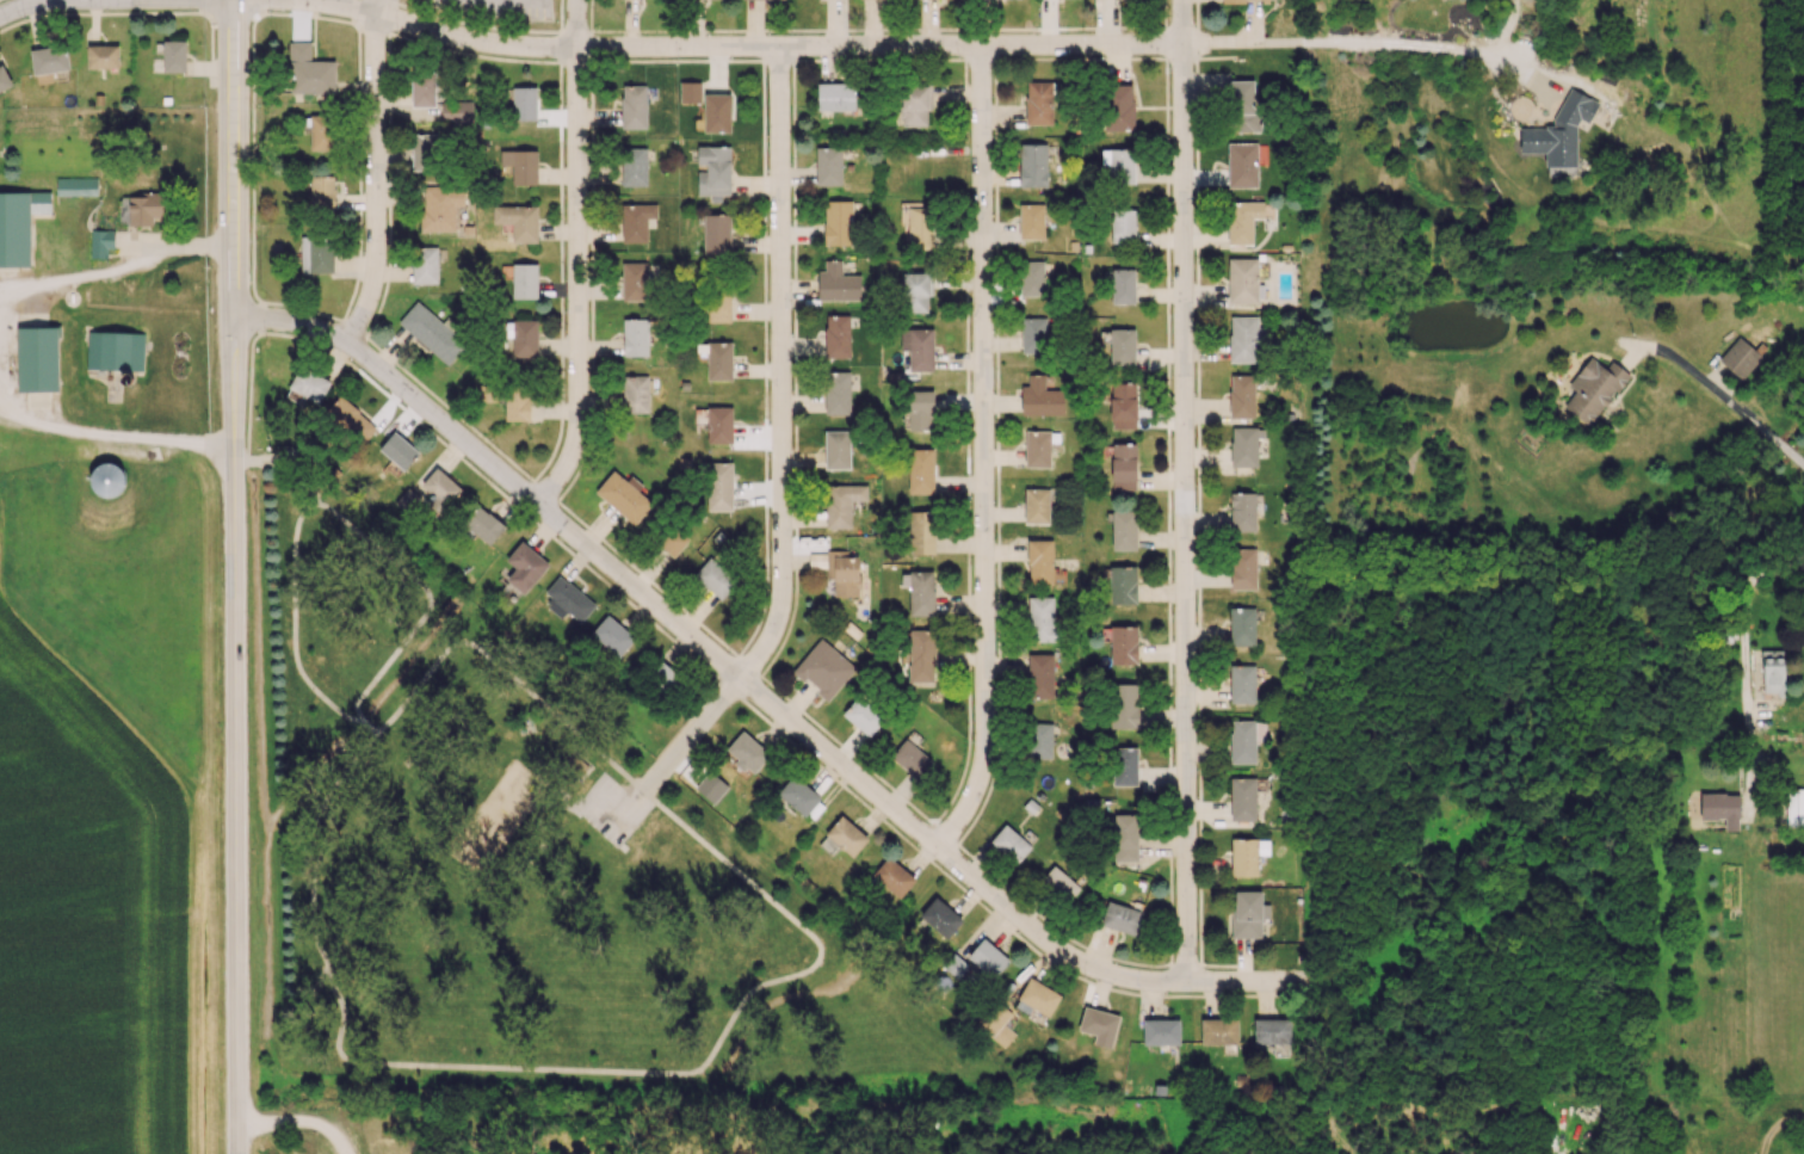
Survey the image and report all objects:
building: (1243, 0)
road: (85, 1)
road: (86, 2)
road: (385, 8)
road: (500, 8)
road: (137, 12)
road: (581, 25)
road: (879, 50)
building: (173, 56)
building: (103, 58)
building: (49, 60)
building: (309, 70)
building: (4, 79)
building: (422, 90)
building: (690, 92)
building: (835, 97)
building: (524, 103)
building: (1038, 103)
building: (634, 105)
building: (914, 105)
building: (1242, 106)
building: (1118, 107)
road: (233, 110)
building: (456, 111)
building: (716, 112)
building: (1559, 131)
building: (321, 132)
building: (424, 152)
building: (1032, 163)
building: (520, 165)
building: (1118, 165)
building: (1242, 165)
building: (634, 166)
building: (828, 166)
building: (713, 169)
building: (75, 186)
road: (377, 186)
building: (321, 191)
building: (440, 206)
building: (143, 208)
building: (518, 221)
building: (636, 221)
building: (1031, 221)
building: (1242, 221)
building: (838, 222)
building: (918, 223)
building: (18, 224)
building: (1123, 227)
building: (716, 234)
building: (100, 243)
building: (316, 254)
building: (425, 265)
road: (116, 267)
road: (233, 269)
building: (1031, 278)
building: (524, 280)
building: (635, 280)
building: (1243, 280)
building: (838, 283)
road: (577, 285)
building: (1123, 285)
building: (916, 290)
building: (718, 307)
building: (432, 332)
building: (1033, 334)
building: (836, 335)
building: (635, 337)
building: (525, 338)
building: (1244, 339)
building: (1122, 346)
building: (918, 348)
building: (115, 351)
building: (1740, 357)
building: (37, 358)
building: (717, 359)
road: (783, 372)
building: (309, 384)
building: (1592, 390)
building: (836, 393)
building: (635, 394)
building: (1241, 395)
road: (1716, 396)
building: (1040, 397)
building: (517, 405)
building: (1123, 406)
building: (919, 411)
building: (351, 418)
building: (719, 424)
road: (113, 432)
building: (1244, 445)
building: (1039, 448)
building: (399, 450)
building: (836, 450)
road: (983, 457)
road: (259, 459)
building: (1123, 467)
building: (920, 470)
building: (106, 479)
road: (303, 482)
building: (718, 486)
building: (440, 490)
road: (1186, 494)
building: (623, 495)
building: (406, 499)
road: (321, 502)
building: (842, 504)
building: (1036, 506)
building: (1242, 512)
building: (483, 524)
building: (1124, 530)
building: (921, 532)
building: (673, 542)
building: (1039, 561)
building: (525, 567)
building: (1243, 568)
building: (844, 572)
building: (715, 578)
building: (1122, 585)
building: (921, 592)
building: (569, 598)
building: (1040, 618)
building: (1242, 627)
building: (612, 635)
building: (1123, 644)
building: (921, 655)
road: (1744, 667)
building: (823, 668)
building: (1772, 672)
building: (1039, 677)
building: (1241, 683)
road: (753, 693)
building: (1124, 705)
building: (864, 715)
road: (235, 735)
building: (1246, 739)
building: (1039, 740)
building: (747, 753)
building: (910, 758)
building: (1124, 765)
building: (576, 767)
road: (667, 767)
building: (799, 796)
building: (1242, 798)
building: (1794, 806)
parking lot: (612, 807)
building: (1720, 808)
road: (567, 809)
building: (846, 835)
building: (1125, 837)
building: (1009, 844)
building: (1247, 856)
building: (892, 877)
building: (1061, 882)
park: (531, 891)
building: (1247, 913)
building: (1120, 917)
building: (939, 918)
crop: (91, 924)
building: (988, 958)
building: (1037, 998)
building: (997, 1025)
building: (1099, 1025)
building: (1161, 1031)
building: (1218, 1031)
building: (1273, 1033)
road: (366, 1061)
road: (294, 1129)

